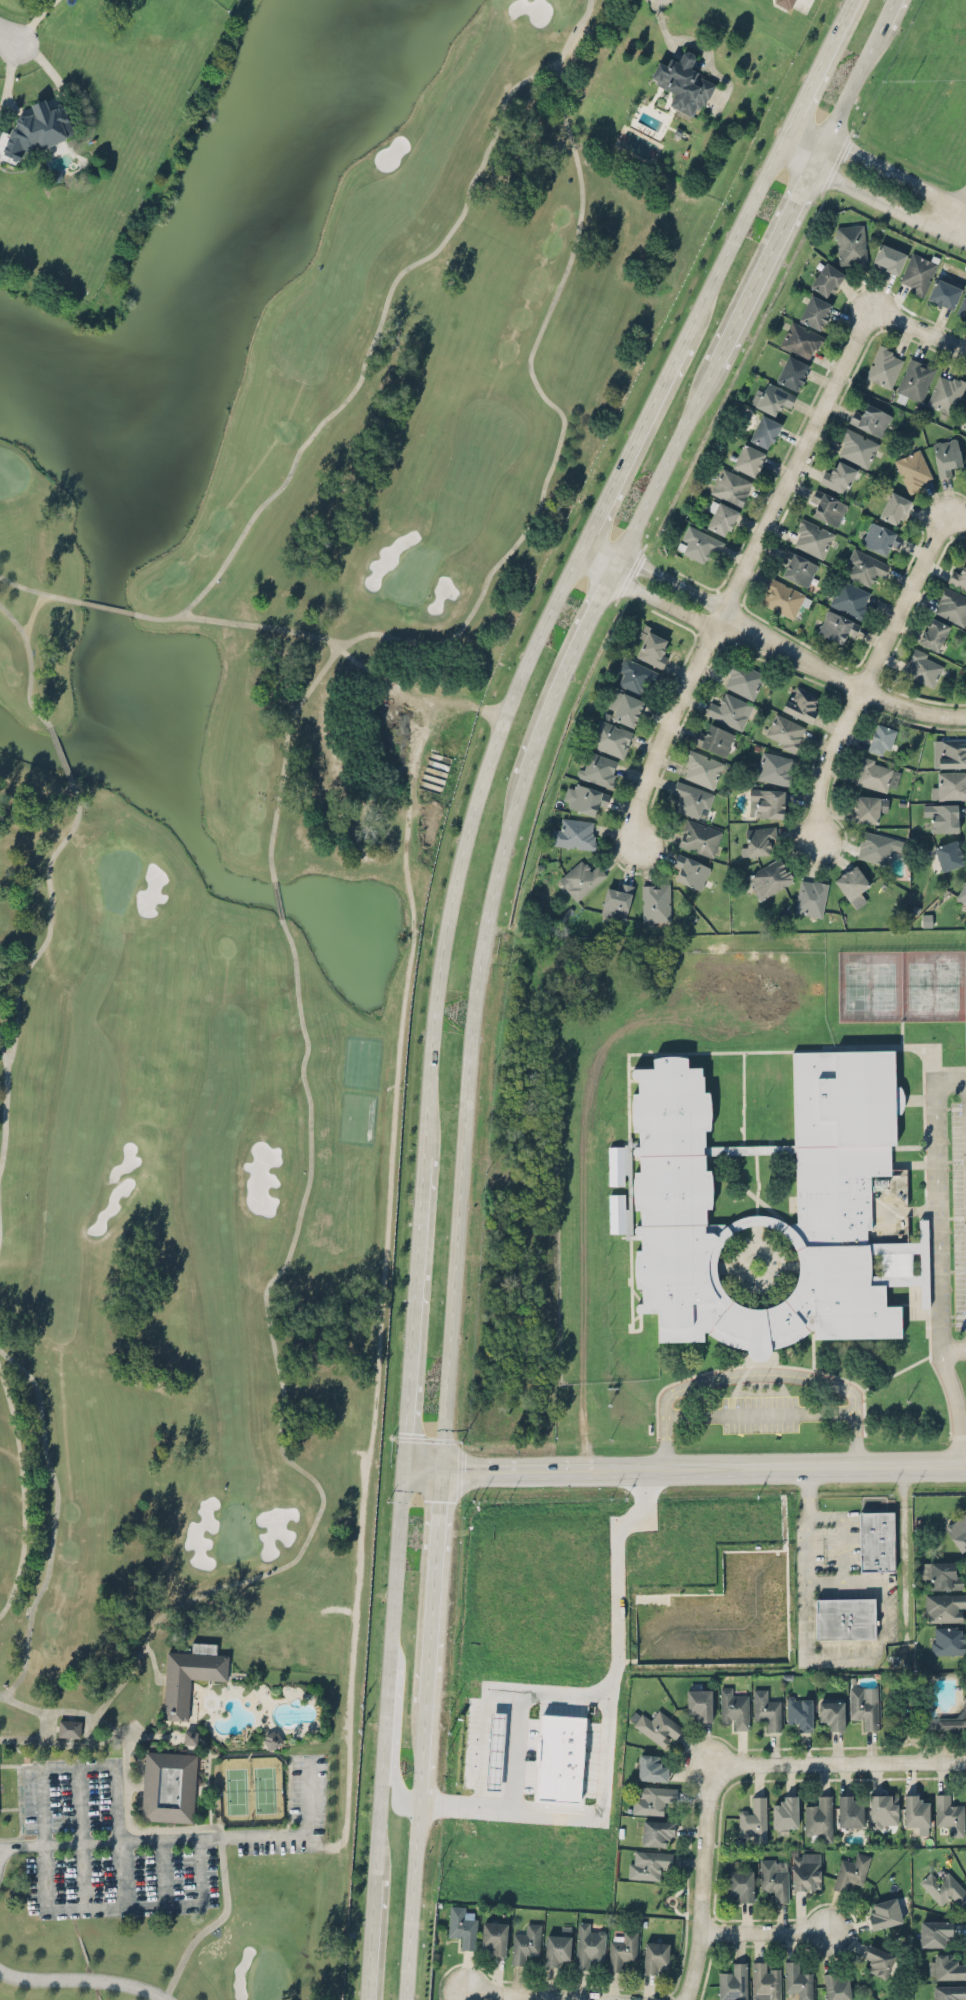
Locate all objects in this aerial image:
building: (785, 3)
road: (888, 12)
road: (9, 39)
road: (826, 61)
building: (683, 83)
road: (847, 96)
building: (36, 130)
road: (880, 162)
road: (871, 196)
road: (959, 220)
road: (739, 232)
building: (851, 244)
building: (889, 258)
road: (762, 265)
building: (917, 272)
building: (826, 279)
building: (943, 293)
building: (962, 304)
building: (815, 311)
road: (920, 329)
building: (800, 339)
building: (884, 365)
building: (792, 372)
building: (914, 379)
building: (946, 392)
building: (771, 397)
building: (963, 413)
building: (871, 419)
building: (764, 430)
road: (635, 440)
building: (856, 446)
building: (945, 455)
road: (668, 458)
building: (748, 459)
road: (794, 463)
building: (913, 469)
building: (838, 476)
building: (730, 485)
building: (827, 506)
building: (894, 507)
building: (720, 517)
road: (957, 518)
building: (812, 537)
building: (880, 537)
building: (699, 543)
road: (603, 545)
road: (614, 566)
building: (797, 566)
building: (864, 566)
building: (958, 576)
road: (674, 582)
road: (646, 595)
building: (783, 597)
building: (850, 597)
road: (903, 602)
building: (952, 605)
building: (836, 625)
building: (933, 633)
building: (653, 648)
building: (923, 666)
road: (563, 675)
building: (635, 675)
road: (839, 678)
building: (743, 679)
building: (801, 702)
building: (626, 708)
building: (727, 709)
road: (667, 730)
building: (783, 731)
building: (609, 737)
building: (714, 738)
building: (881, 738)
building: (952, 752)
road: (828, 763)
building: (774, 767)
building: (598, 768)
building: (701, 768)
building: (876, 773)
building: (949, 784)
building: (584, 797)
building: (691, 797)
building: (766, 802)
building: (868, 807)
building: (943, 816)
building: (574, 833)
road: (467, 834)
building: (699, 837)
building: (758, 839)
building: (877, 846)
building: (948, 854)
building: (690, 870)
building: (580, 877)
building: (769, 878)
building: (852, 884)
building: (961, 894)
building: (811, 896)
building: (616, 900)
building: (656, 902)
park: (255, 918)
park: (901, 983)
road: (464, 1119)
road: (937, 1197)
building: (672, 1200)
parking lot: (957, 1209)
road: (413, 1309)
road: (953, 1347)
road: (755, 1373)
road: (956, 1403)
road: (759, 1412)
parking lot: (760, 1413)
road: (855, 1419)
traffic signals: (404, 1430)
road: (665, 1444)
road: (855, 1444)
road: (783, 1463)
road: (521, 1466)
road: (421, 1467)
road: (808, 1479)
traffic signals: (439, 1500)
road: (808, 1506)
building: (958, 1531)
road: (841, 1532)
building: (876, 1539)
road: (903, 1546)
building: (941, 1573)
road: (824, 1581)
road: (433, 1584)
building: (944, 1606)
building: (845, 1617)
building: (947, 1639)
road: (395, 1653)
road: (828, 1659)
road: (387, 1672)
building: (189, 1675)
road: (586, 1695)
building: (698, 1704)
building: (862, 1707)
building: (733, 1708)
building: (766, 1708)
building: (800, 1711)
building: (831, 1712)
building: (949, 1720)
building: (498, 1724)
building: (655, 1725)
building: (69, 1728)
road: (485, 1731)
building: (190, 1736)
building: (272, 1738)
road: (396, 1742)
building: (561, 1757)
road: (422, 1758)
road: (881, 1763)
road: (78, 1766)
building: (651, 1767)
building: (169, 1785)
road: (601, 1798)
building: (651, 1798)
building: (849, 1810)
building: (883, 1810)
building: (915, 1810)
building: (785, 1813)
building: (949, 1814)
building: (819, 1817)
building: (753, 1819)
building: (657, 1832)
road: (119, 1835)
road: (81, 1837)
road: (192, 1838)
road: (43, 1839)
road: (707, 1842)
building: (649, 1864)
road: (199, 1870)
building: (805, 1870)
building: (851, 1870)
road: (162, 1872)
building: (774, 1878)
building: (740, 1883)
building: (943, 1887)
road: (123, 1906)
road: (412, 1907)
building: (883, 1912)
building: (462, 1926)
road: (766, 1931)
building: (935, 1932)
building: (494, 1936)
road: (371, 1939)
building: (525, 1942)
building: (588, 1945)
building: (558, 1947)
building: (622, 1949)
building: (656, 1955)
building: (878, 1959)
building: (945, 1965)
road: (85, 1978)
building: (733, 1981)
building: (765, 1981)
building: (798, 1981)
building: (836, 1985)
building: (948, 1992)
road: (535, 1996)

